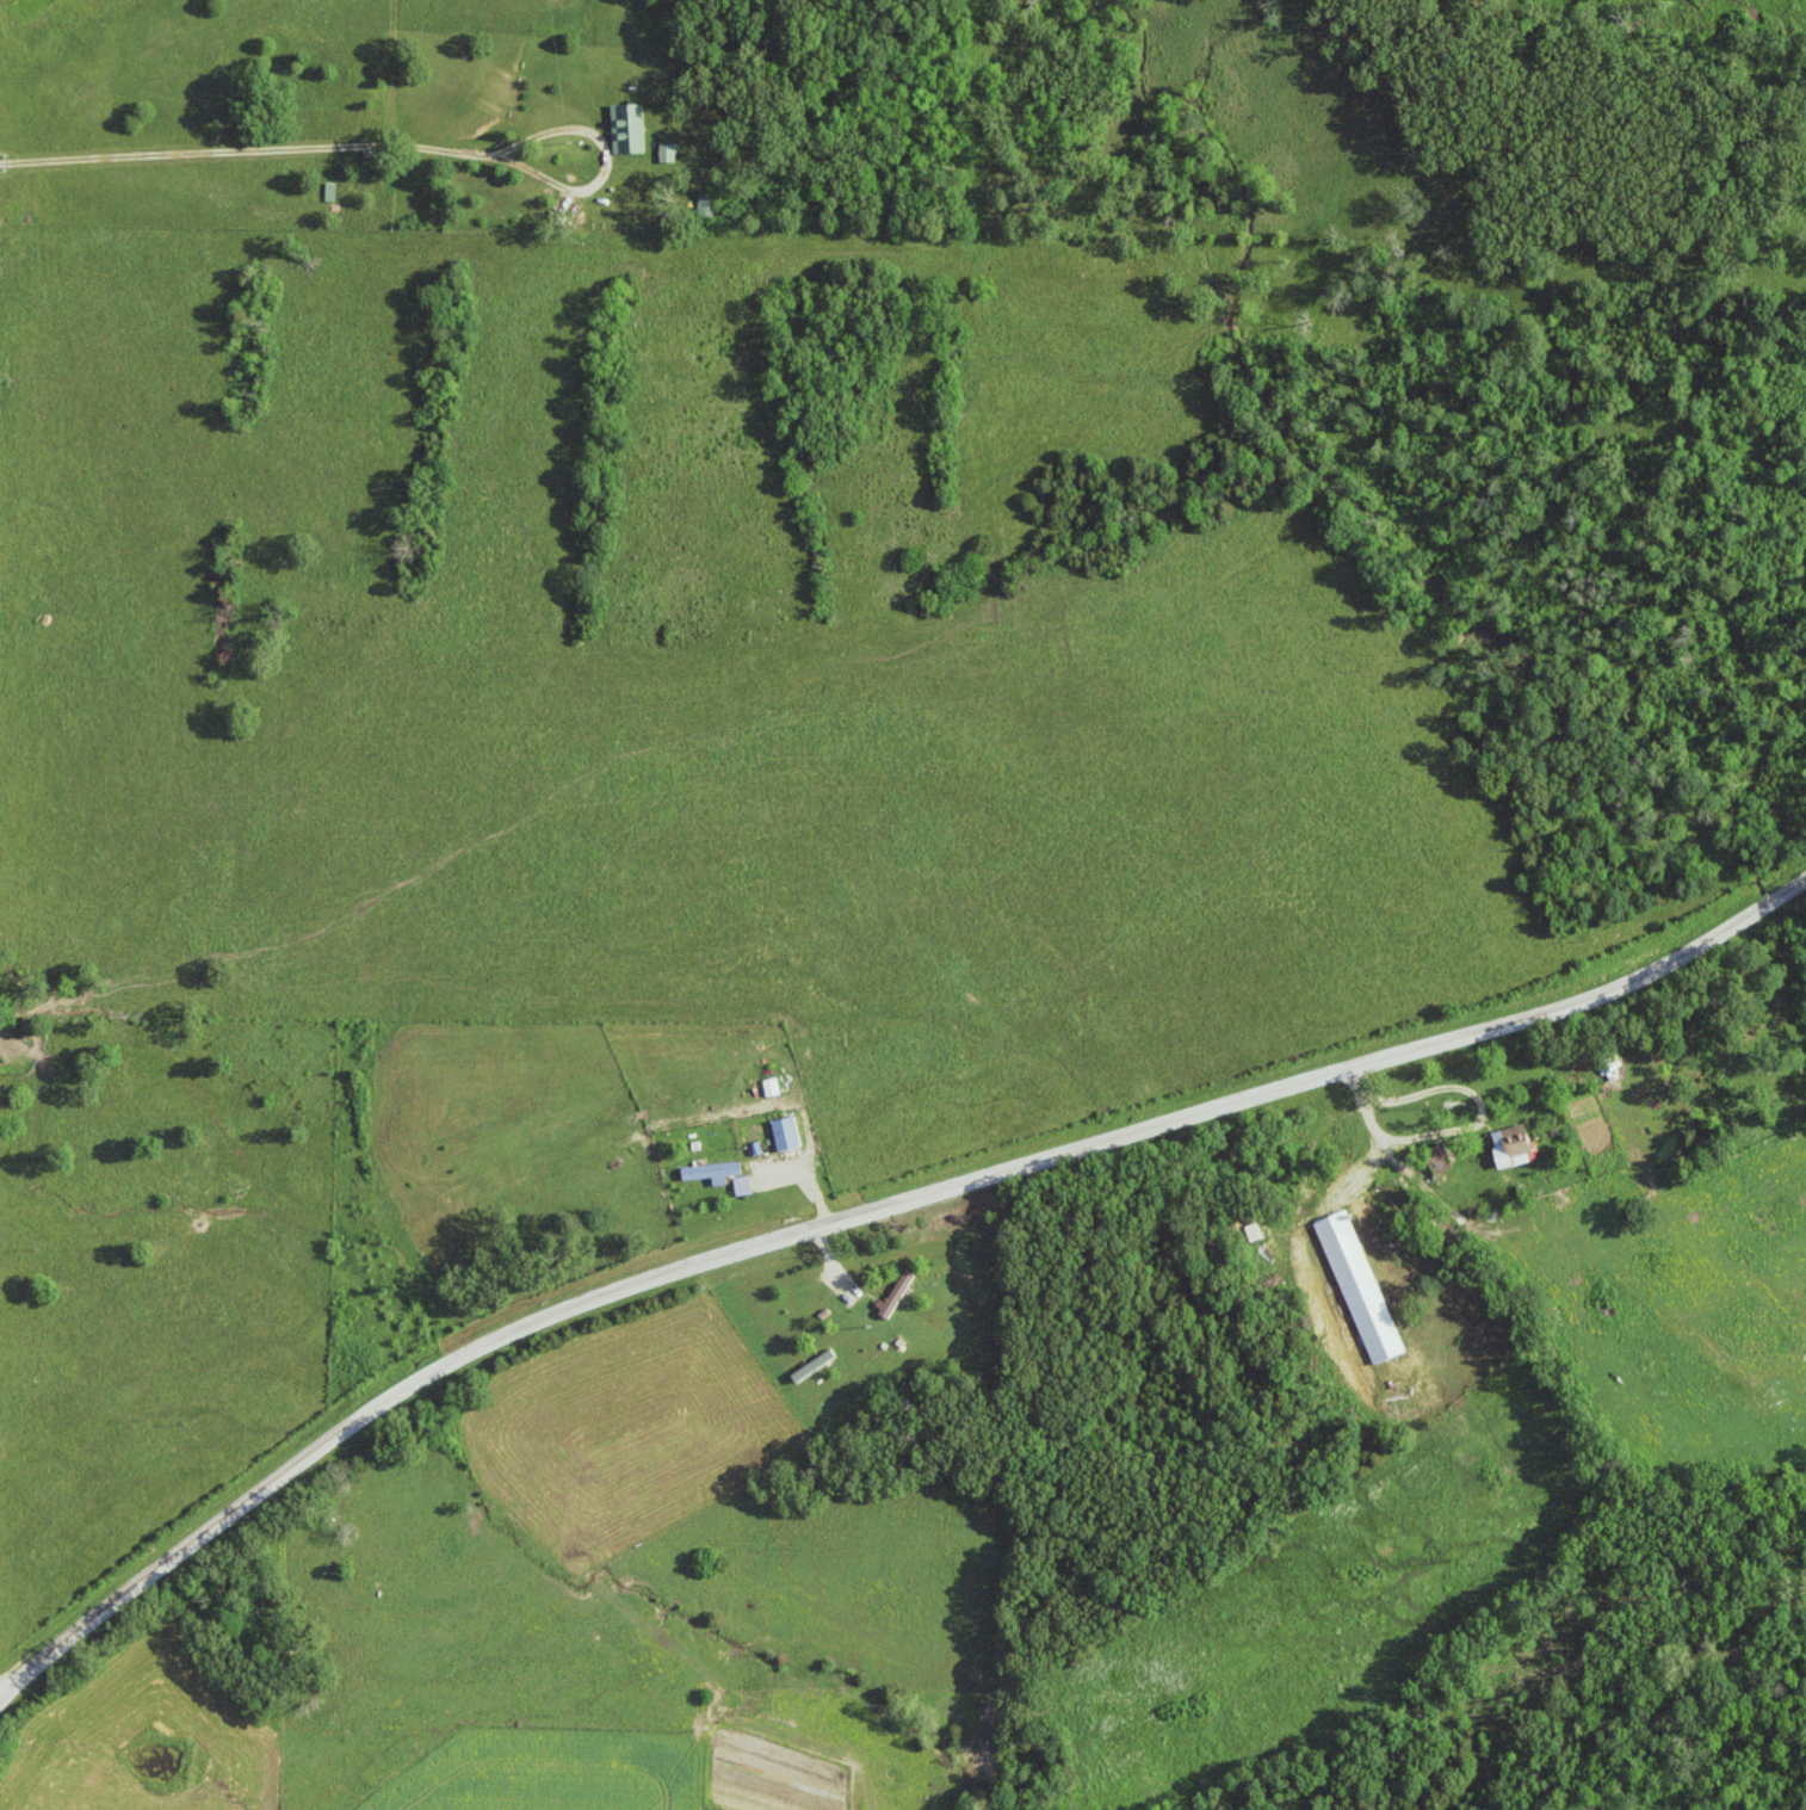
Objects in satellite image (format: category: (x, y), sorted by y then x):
building: (629, 130)
road: (249, 144)
building: (669, 154)
road: (607, 174)
road: (1367, 1080)
road: (1361, 1104)
building: (787, 1136)
building: (1515, 1148)
building: (712, 1174)
building: (743, 1187)
road: (862, 1211)
road: (839, 1255)
building: (1361, 1290)

